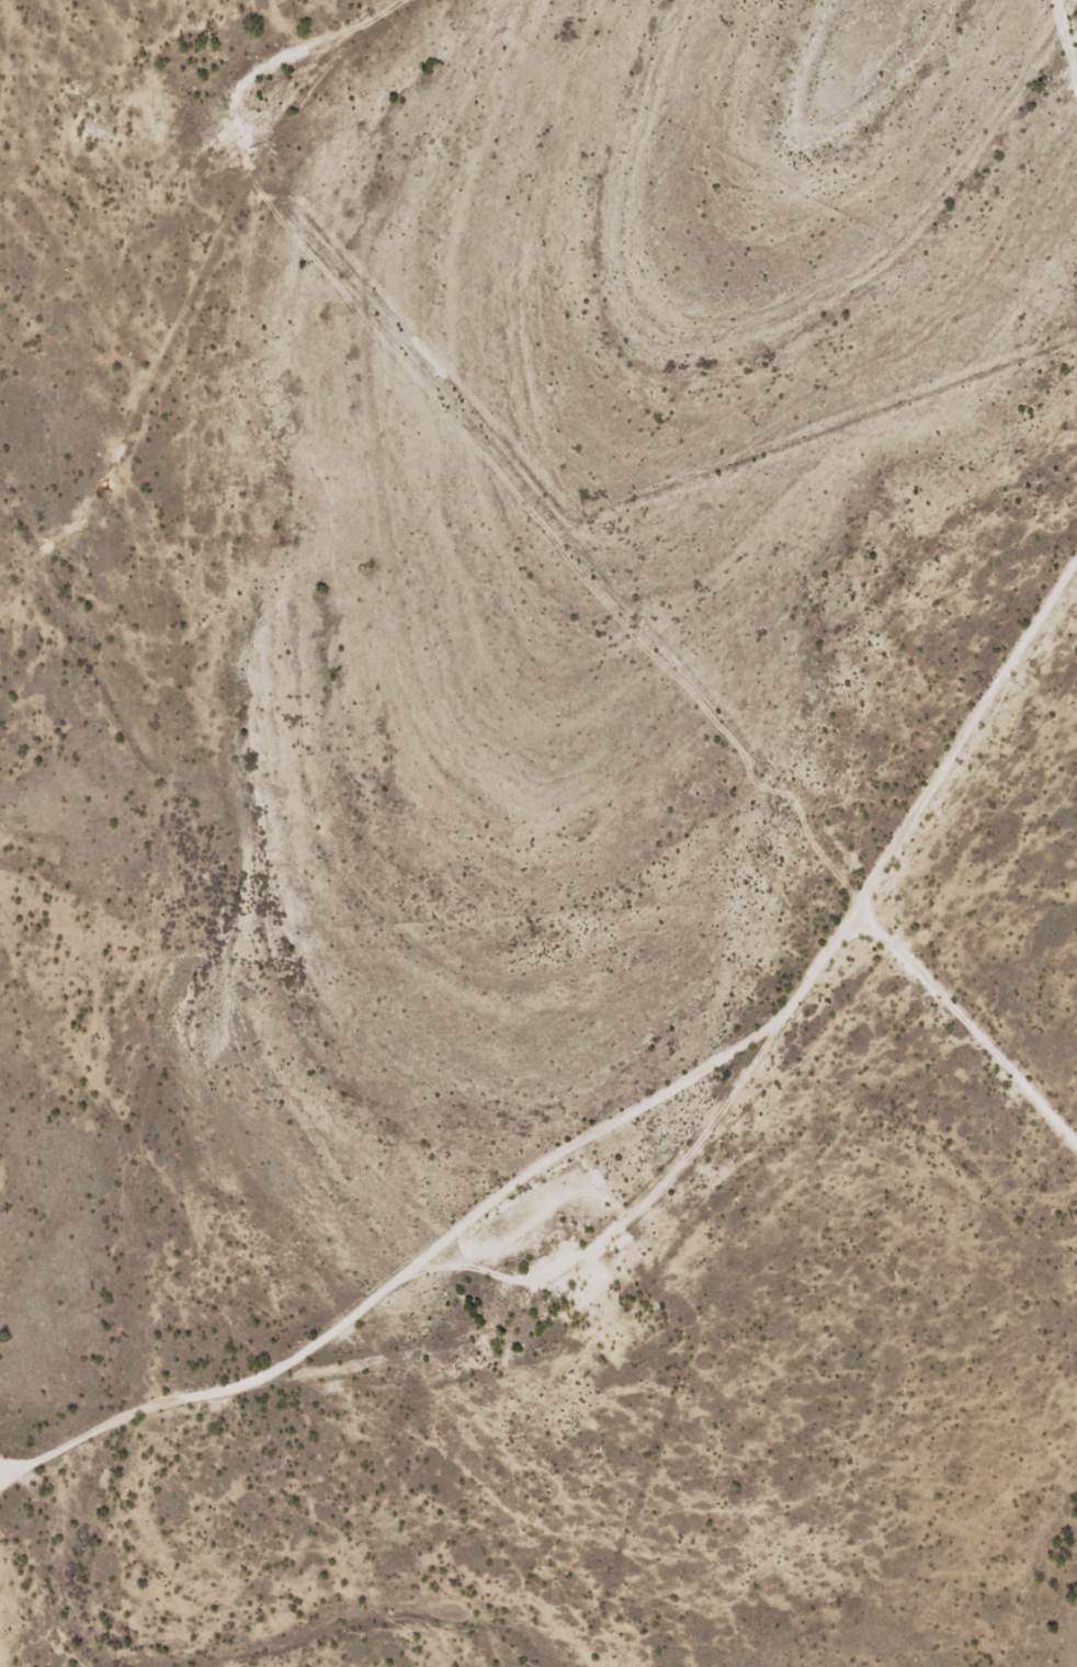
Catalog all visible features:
road: (899, 1168)
road: (674, 1249)

